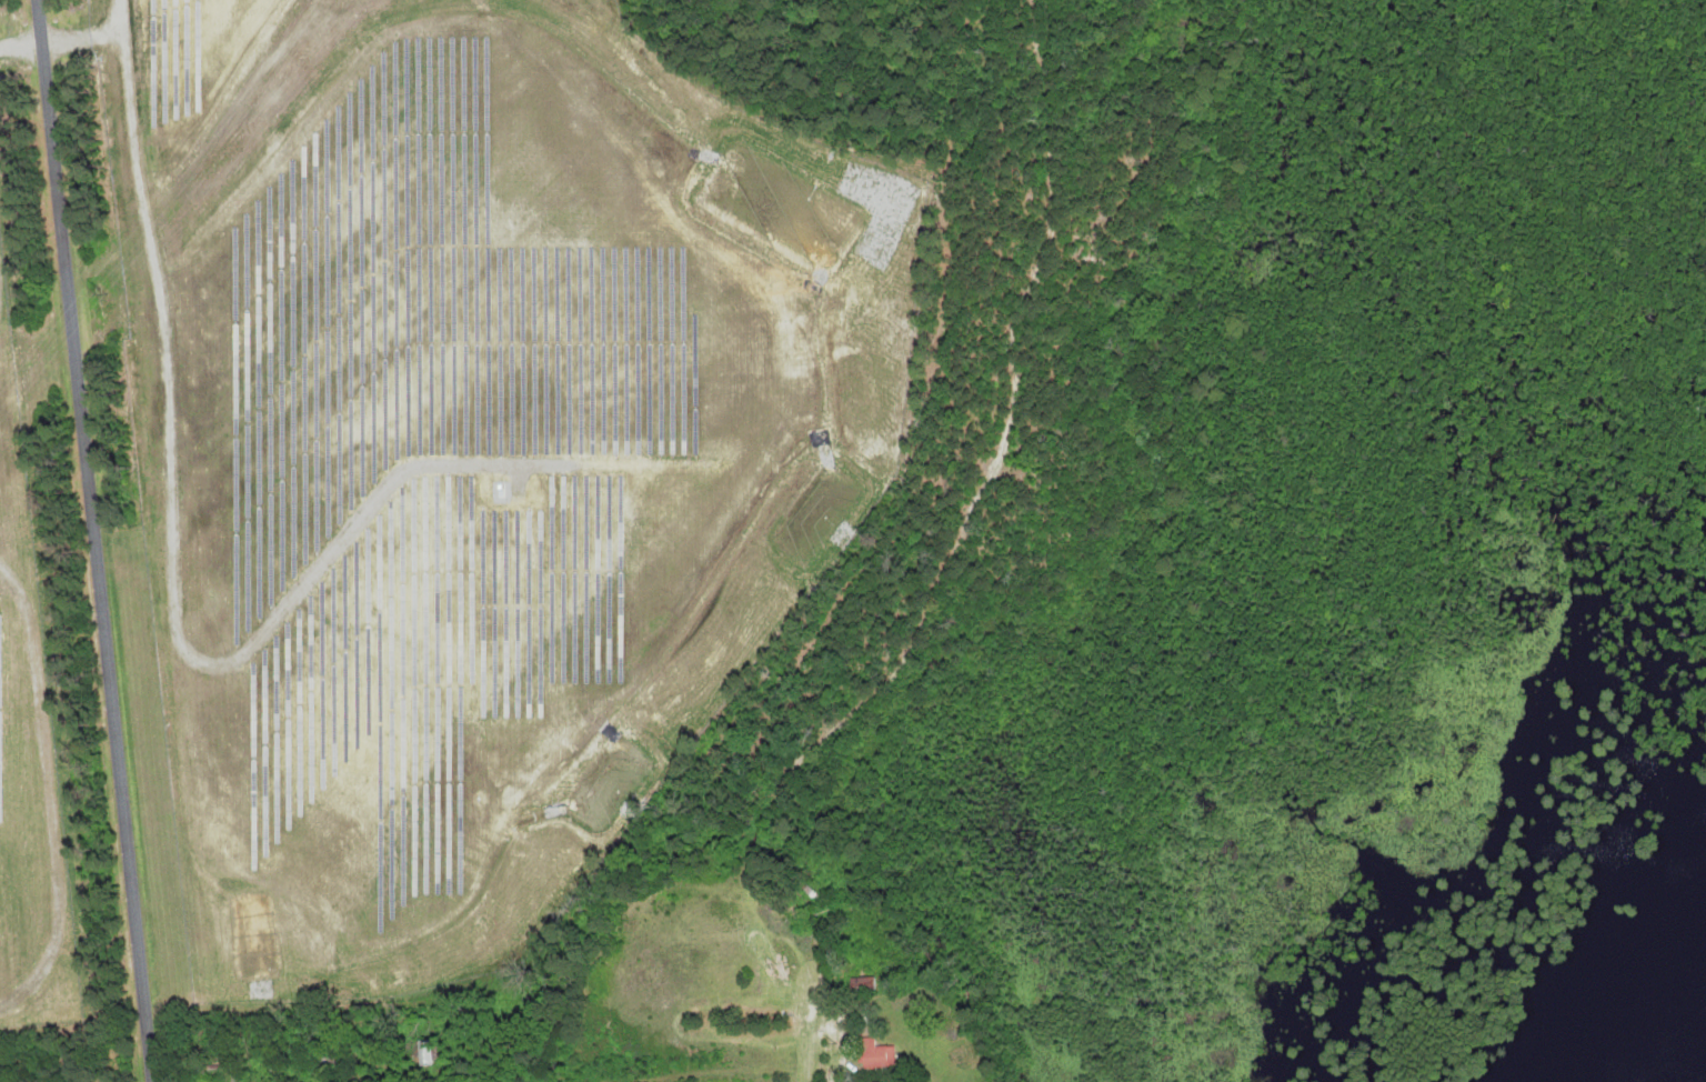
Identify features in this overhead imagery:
power tower: (103, 285)
road: (94, 540)
building: (432, 1051)
building: (874, 1054)
building: (212, 1071)

